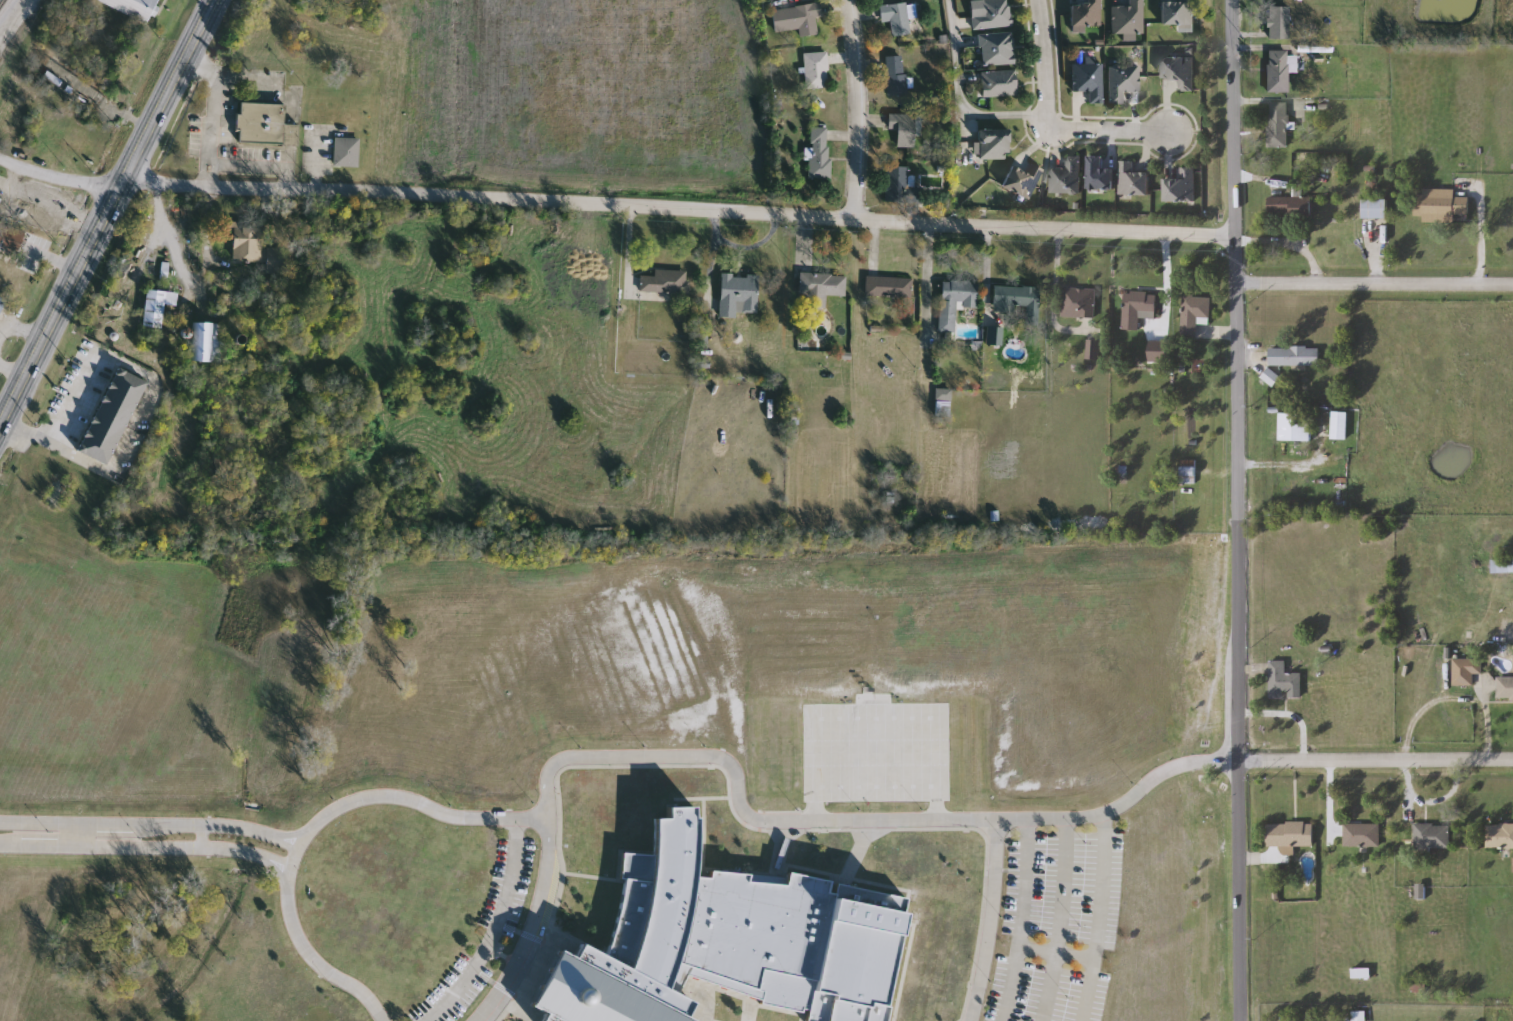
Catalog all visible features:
building: (133, 7)
building: (1086, 13)
building: (993, 14)
building: (1178, 14)
building: (897, 17)
building: (798, 18)
building: (1129, 18)
building: (1279, 22)
building: (998, 48)
road: (1044, 62)
building: (817, 70)
building: (1278, 71)
building: (1181, 72)
building: (896, 79)
building: (1089, 80)
building: (1123, 82)
building: (999, 83)
road: (166, 90)
road: (213, 96)
road: (961, 97)
road: (857, 108)
building: (265, 125)
building: (1278, 126)
road: (1113, 130)
building: (902, 131)
building: (995, 144)
building: (347, 152)
building: (819, 152)
road: (208, 153)
railway: (84, 156)
road: (259, 166)
road: (202, 171)
road: (212, 171)
building: (1100, 175)
road: (58, 177)
building: (1067, 177)
building: (1022, 179)
building: (1134, 181)
building: (900, 186)
building: (1181, 187)
building: (0, 200)
building: (1443, 206)
building: (19, 207)
building: (1292, 207)
road: (679, 208)
building: (1375, 209)
road: (170, 238)
building: (12, 241)
building: (248, 244)
building: (667, 282)
building: (889, 286)
road: (1376, 288)
building: (820, 289)
building: (738, 293)
building: (1020, 299)
building: (2, 301)
building: (955, 301)
building: (1079, 303)
road: (60, 304)
building: (155, 308)
building: (1139, 309)
building: (1194, 314)
building: (995, 335)
building: (206, 342)
building: (1094, 350)
building: (1295, 357)
road: (128, 367)
road: (1239, 380)
building: (943, 403)
building: (112, 415)
road: (63, 419)
building: (1296, 427)
building: (1337, 427)
road: (111, 464)
building: (1189, 472)
building: (1501, 566)
building: (1466, 670)
building: (1284, 681)
building: (1505, 688)
road: (1290, 713)
road: (1200, 761)
road: (1376, 761)
road: (740, 793)
road: (1331, 797)
road: (417, 801)
road: (1083, 812)
road: (152, 824)
building: (1291, 834)
building: (1362, 835)
building: (1432, 837)
road: (147, 846)
road: (298, 849)
road: (294, 861)
road: (1239, 891)
road: (1096, 916)
road: (1054, 918)
road: (984, 919)
road: (1021, 919)
road: (534, 926)
road: (491, 930)
building: (730, 942)
road: (314, 958)

